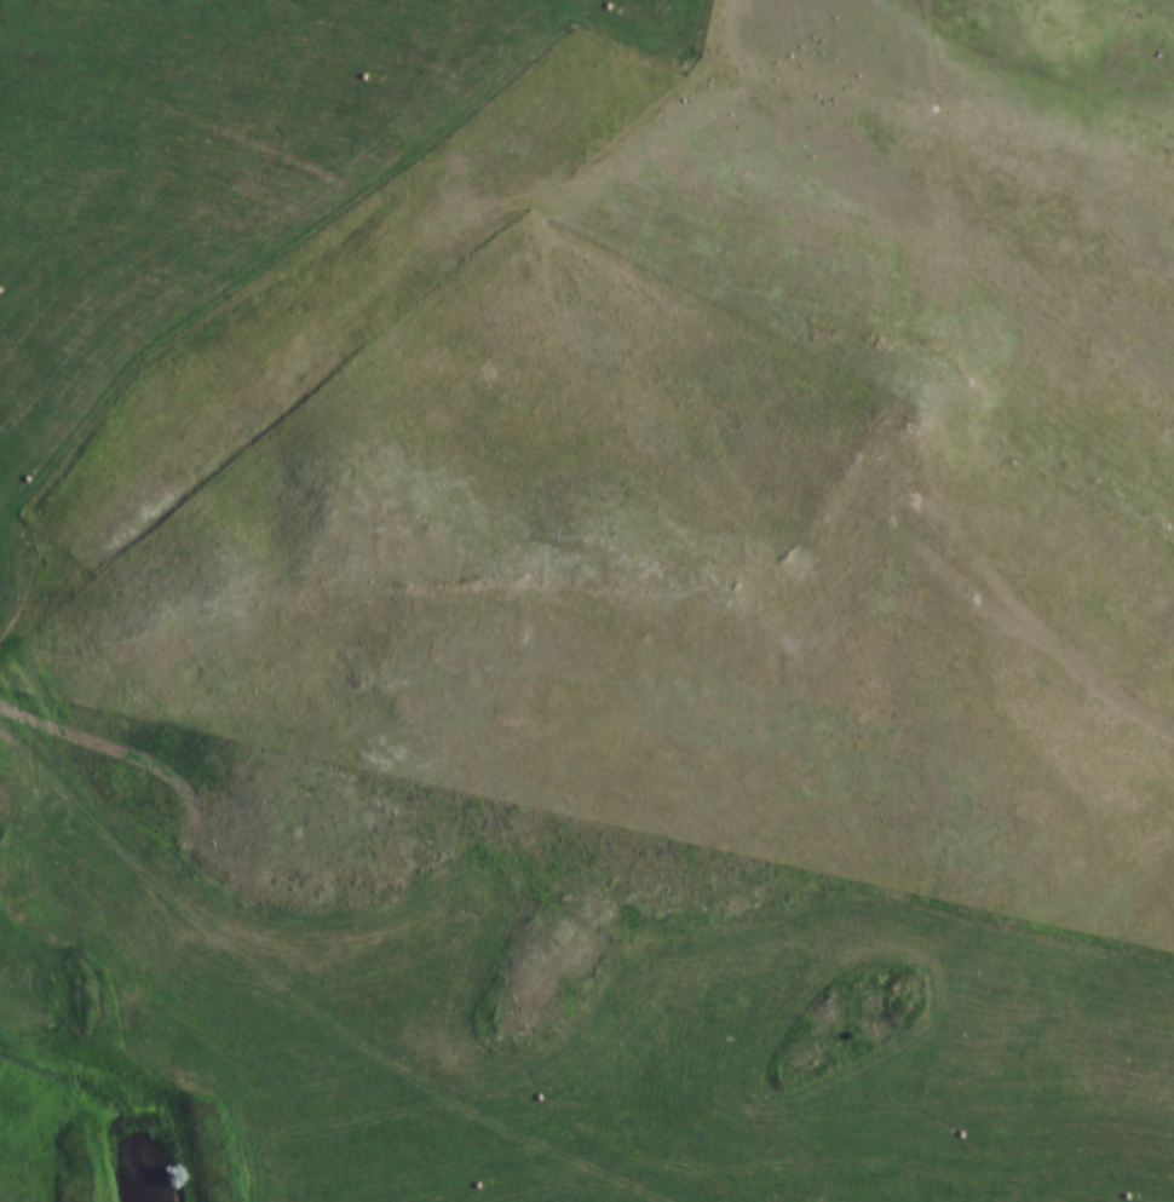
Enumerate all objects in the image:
road: (586, 146)

